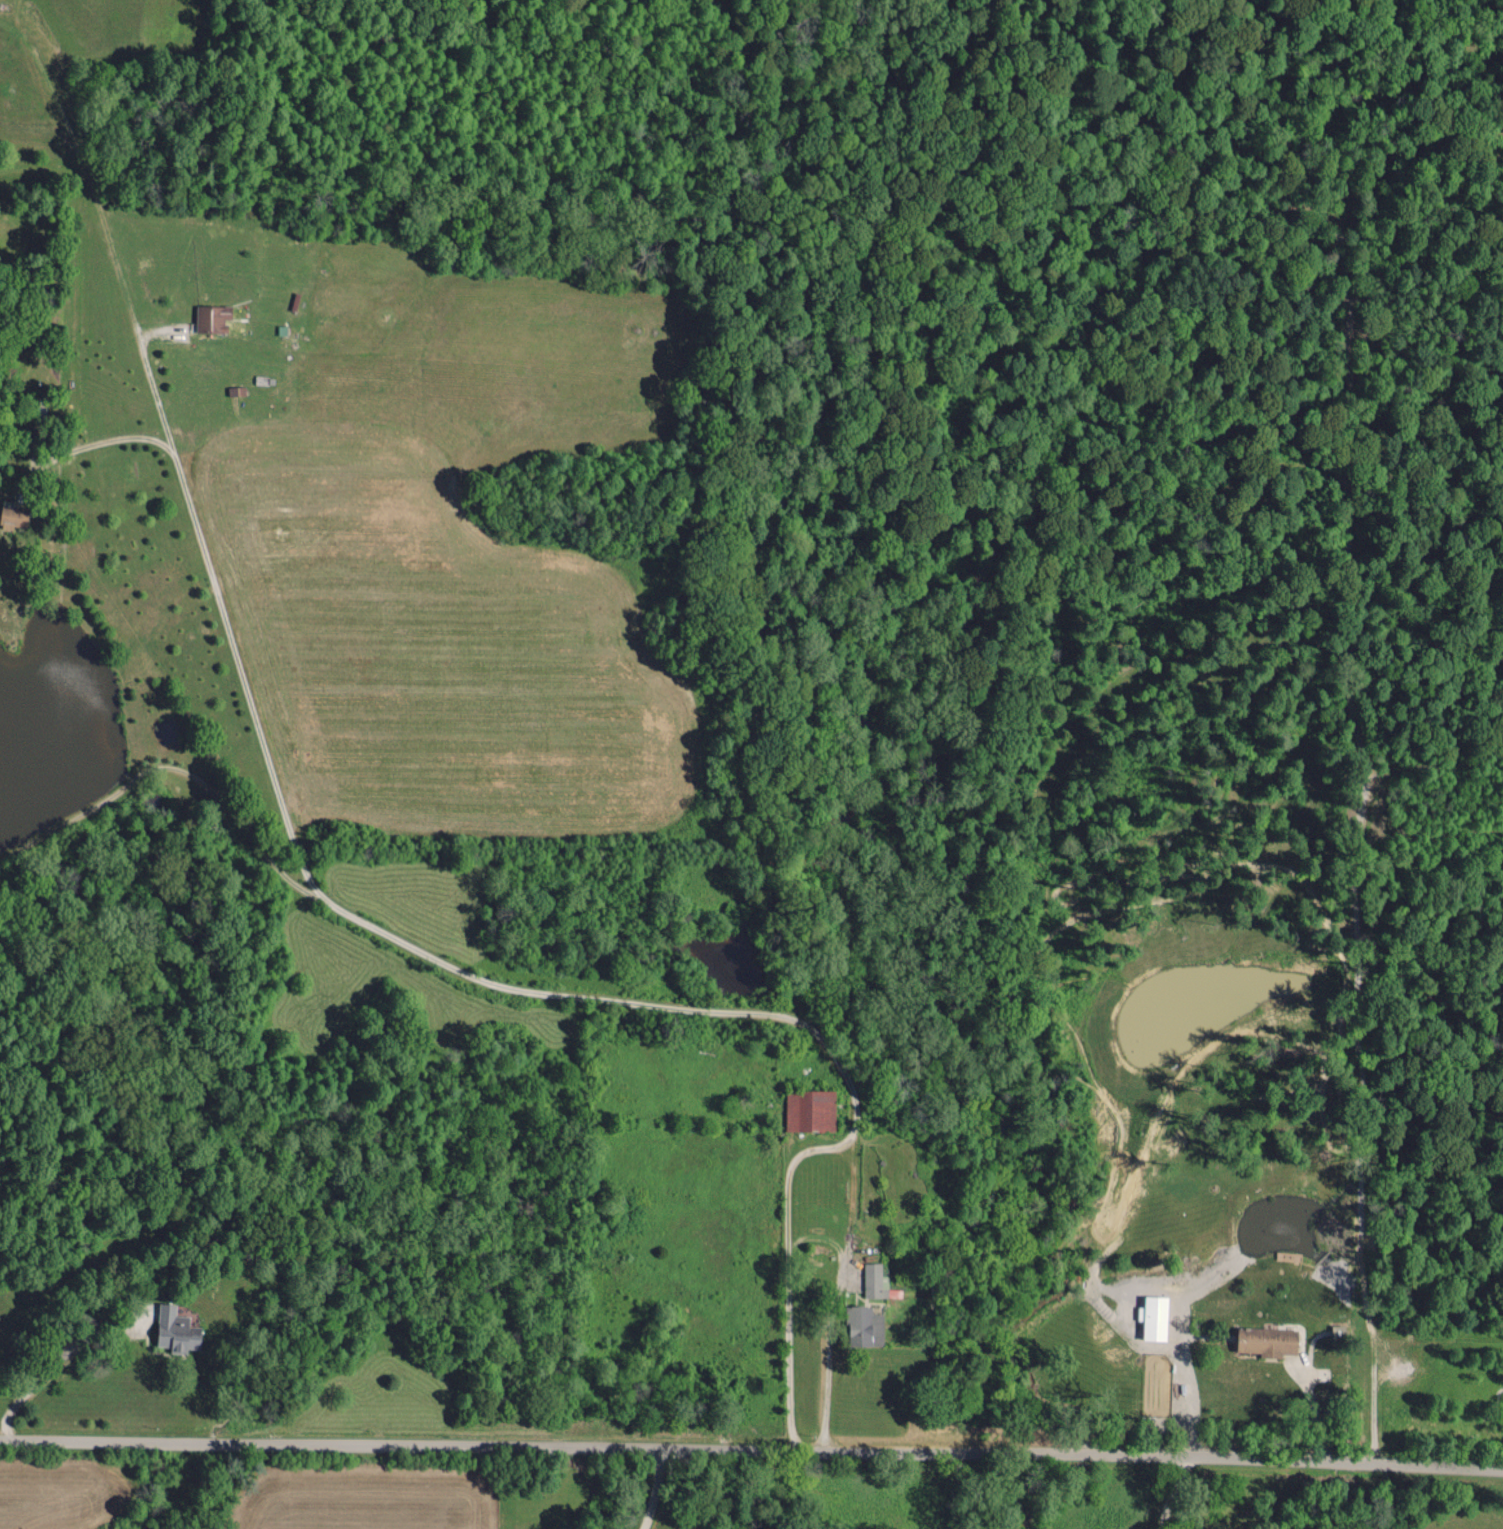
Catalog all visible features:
building: (13, 517)
building: (810, 1109)
building: (873, 1280)
building: (1154, 1316)
building: (864, 1325)
building: (176, 1330)
building: (1268, 1340)
road: (52, 1361)
road: (751, 1447)
road: (652, 1488)

